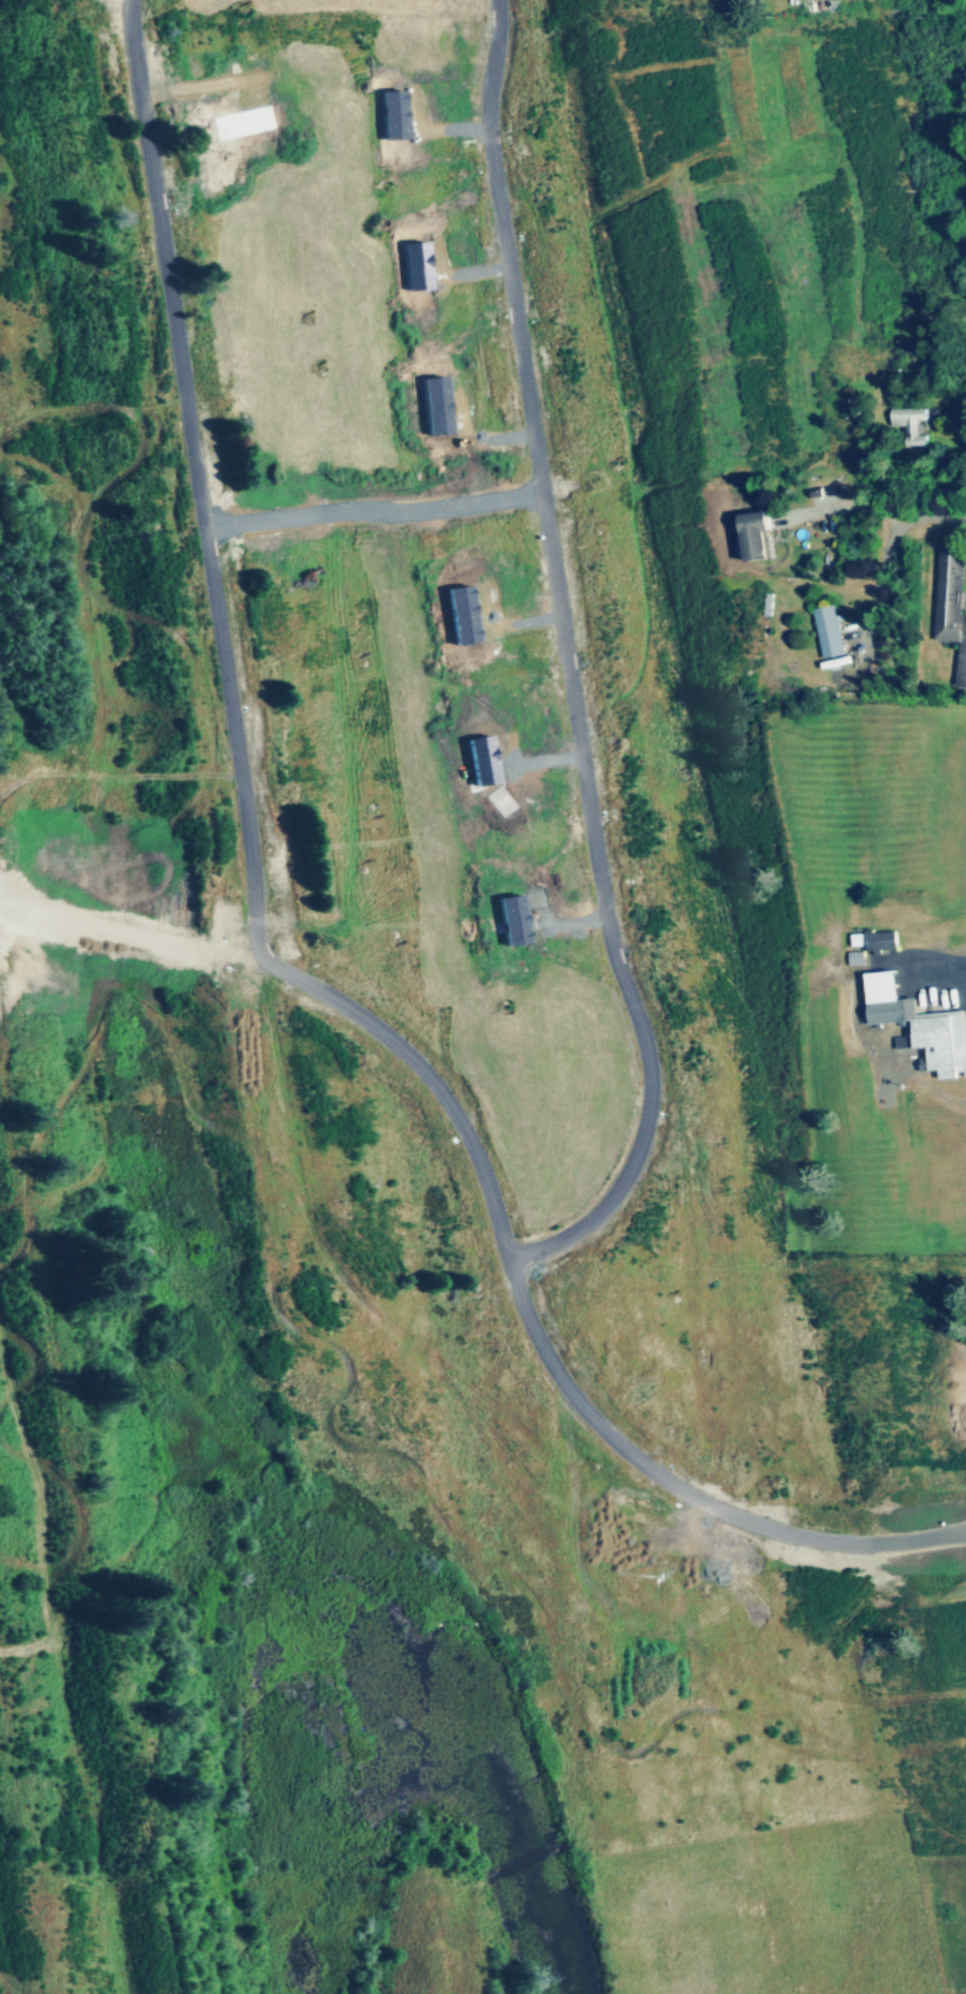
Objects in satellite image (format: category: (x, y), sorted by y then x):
building: (827, 11)
building: (911, 426)
road: (900, 509)
building: (806, 527)
building: (952, 606)
building: (826, 631)
building: (879, 941)
building: (917, 1026)

